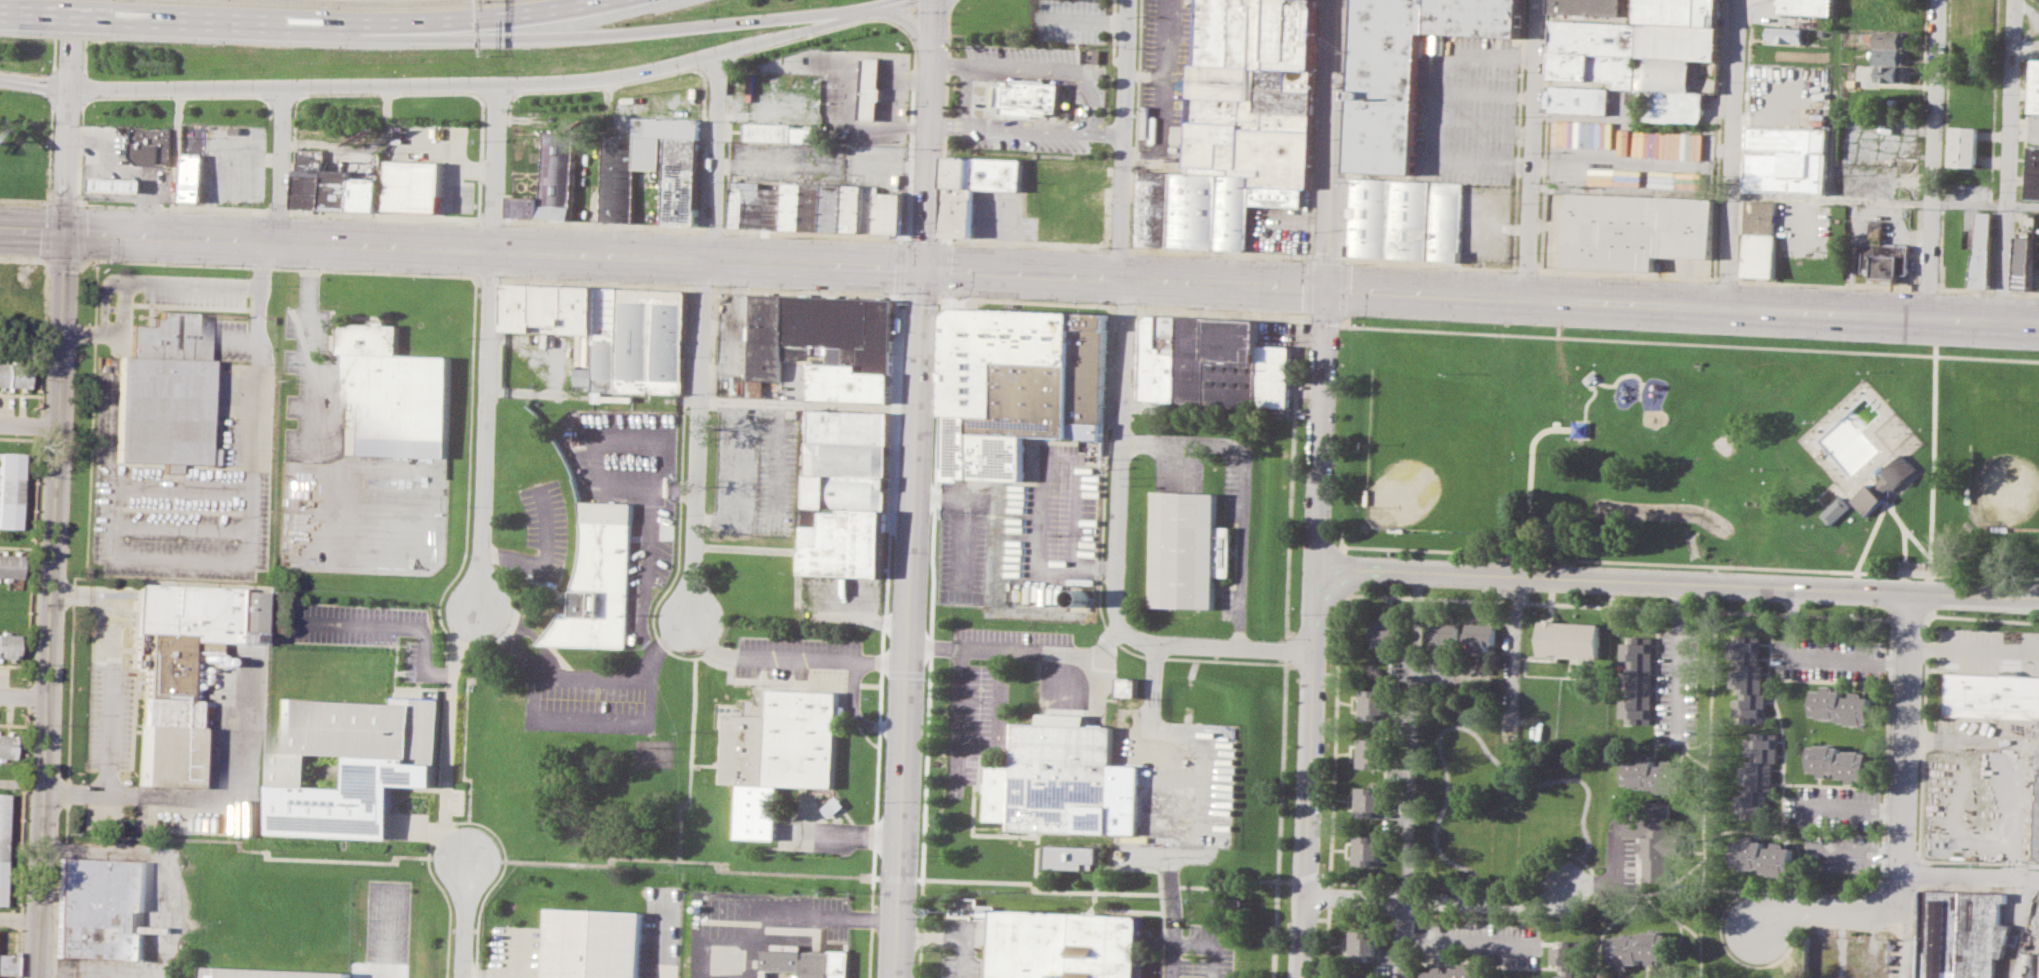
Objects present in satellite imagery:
road: (954, 1)
building: (1807, 6)
building: (1591, 7)
building: (1680, 11)
road: (11, 12)
road: (521, 12)
road: (73, 15)
road: (1084, 20)
road: (284, 22)
road: (655, 30)
building: (1786, 34)
road: (53, 35)
road: (83, 36)
building: (1593, 37)
building: (1415, 39)
building: (1889, 39)
building: (1679, 41)
building: (1889, 56)
road: (855, 60)
road: (872, 61)
road: (887, 62)
road: (810, 64)
building: (1594, 67)
road: (855, 71)
road: (845, 72)
road: (872, 72)
road: (886, 72)
building: (1666, 73)
building: (1890, 73)
road: (1145, 75)
road: (854, 82)
road: (1163, 82)
road: (871, 83)
road: (886, 83)
road: (35, 84)
building: (1968, 85)
road: (493, 86)
road: (51, 87)
road: (82, 87)
parking lot: (1166, 87)
building: (2034, 87)
building: (871, 88)
road: (965, 93)
road: (1484, 93)
building: (1030, 96)
building: (1579, 98)
road: (853, 102)
road: (871, 103)
road: (891, 103)
road: (885, 104)
parking lot: (1466, 104)
road: (1436, 106)
building: (1687, 106)
road: (1093, 109)
road: (854, 113)
road: (870, 113)
road: (885, 114)
road: (1472, 117)
road: (945, 119)
building: (1236, 126)
building: (670, 127)
building: (778, 132)
road: (1109, 133)
road: (930, 134)
building: (1383, 136)
road: (1124, 138)
road: (1331, 143)
building: (1668, 144)
building: (1965, 145)
road: (364, 147)
building: (146, 148)
road: (1529, 149)
road: (78, 152)
building: (652, 152)
parking lot: (1627, 152)
road: (1733, 154)
road: (720, 155)
road: (1935, 158)
building: (1788, 159)
road: (2009, 159)
road: (177, 162)
road: (284, 163)
road: (781, 165)
building: (984, 172)
building: (2033, 172)
road: (93, 175)
road: (48, 176)
building: (194, 176)
building: (618, 177)
road: (80, 179)
building: (310, 179)
building: (552, 181)
building: (685, 181)
building: (117, 184)
building: (413, 185)
building: (337, 189)
building: (366, 194)
road: (1783, 197)
road: (49, 201)
road: (63, 201)
building: (761, 204)
building: (847, 208)
road: (146, 209)
building: (958, 213)
building: (1406, 218)
parking lot: (1487, 222)
building: (1637, 229)
traffic signals: (66, 232)
building: (1761, 238)
road: (462, 248)
building: (1981, 251)
road: (261, 255)
building: (1882, 255)
building: (2023, 260)
road: (940, 267)
traffic signals: (925, 268)
road: (1125, 277)
road: (165, 283)
traffic signals: (1325, 288)
parking lot: (195, 289)
road: (105, 301)
road: (1123, 306)
road: (1681, 307)
building: (554, 310)
road: (1221, 311)
road: (43, 316)
road: (1342, 316)
building: (817, 327)
road: (82, 331)
building: (644, 342)
road: (1688, 342)
road: (489, 343)
parking lot: (735, 344)
road: (308, 347)
road: (1134, 356)
building: (1211, 361)
building: (12, 373)
building: (854, 374)
road: (1612, 383)
building: (1018, 384)
building: (165, 391)
building: (395, 393)
road: (809, 405)
road: (1137, 405)
road: (1586, 409)
road: (38, 425)
road: (1320, 427)
road: (28, 428)
building: (1580, 428)
road: (697, 436)
road: (1895, 443)
park: (1723, 444)
park: (1684, 450)
road: (1119, 452)
park: (1441, 454)
park: (2004, 464)
parking lot: (757, 471)
parking lot: (191, 473)
road: (1103, 474)
parking lot: (349, 476)
road: (1291, 476)
road: (1911, 481)
road: (178, 485)
road: (662, 486)
building: (1875, 486)
road: (1241, 488)
building: (10, 489)
road: (54, 489)
building: (852, 493)
road: (803, 506)
parking lot: (1051, 522)
road: (176, 526)
road: (747, 547)
road: (1437, 549)
road: (1930, 549)
building: (1187, 551)
parking lot: (963, 556)
road: (648, 558)
road: (32, 560)
road: (214, 562)
road: (1680, 563)
building: (9, 566)
road: (1342, 573)
road: (1947, 575)
building: (600, 581)
road: (1613, 581)
road: (1905, 582)
road: (1924, 583)
road: (1972, 597)
road: (2035, 597)
road: (2035, 599)
road: (1613, 605)
road: (1313, 608)
road: (1908, 616)
parking lot: (689, 618)
road: (1985, 618)
road: (909, 622)
parking lot: (363, 629)
road: (642, 631)
building: (1387, 631)
building: (1443, 633)
building: (1480, 635)
road: (422, 636)
road: (932, 637)
building: (1570, 639)
road: (1214, 644)
building: (8, 645)
road: (1974, 646)
road: (976, 647)
parking lot: (1985, 648)
road: (1284, 649)
parking lot: (788, 653)
road: (1088, 653)
road: (1818, 656)
road: (1512, 657)
road: (764, 658)
parking lot: (1828, 658)
road: (1680, 661)
road: (883, 663)
road: (107, 664)
building: (175, 667)
road: (1310, 668)
road: (596, 675)
parking lot: (108, 678)
building: (1641, 680)
building: (1750, 681)
road: (1095, 685)
parking lot: (1679, 685)
building: (1128, 686)
road: (28, 695)
building: (1991, 695)
road: (22, 696)
parking lot: (591, 700)
building: (1370, 703)
building: (1841, 705)
road: (859, 712)
road: (998, 717)
road: (957, 720)
road: (581, 723)
road: (1905, 732)
road: (1175, 734)
road: (1333, 743)
building: (6, 745)
road: (1408, 749)
building: (782, 752)
building: (1368, 752)
parking lot: (1401, 759)
building: (351, 762)
building: (1841, 763)
road: (447, 769)
building: (1759, 771)
building: (1657, 774)
road: (20, 779)
building: (1054, 779)
road: (66, 787)
parking lot: (1170, 789)
road: (213, 795)
building: (1366, 800)
building: (2036, 804)
building: (834, 806)
road: (1306, 813)
road: (1277, 820)
road: (1806, 823)
parking lot: (1837, 826)
road: (846, 833)
road: (1008, 834)
building: (1655, 837)
road: (22, 841)
building: (2, 844)
building: (1364, 849)
road: (1180, 854)
building: (1071, 856)
building: (1765, 856)
road: (1969, 871)
road: (1301, 875)
road: (1592, 876)
road: (1097, 878)
road: (1227, 885)
road: (1050, 890)
road: (1327, 897)
road: (1437, 899)
building: (101, 908)
road: (1837, 912)
road: (1171, 915)
road: (18, 916)
road: (828, 916)
road: (1314, 917)
road: (464, 920)
parking lot: (386, 930)
road: (388, 934)
building: (1960, 934)
road: (940, 935)
road: (1398, 937)
road: (668, 940)
road: (1464, 940)
parking lot: (1477, 942)
road: (1325, 943)
building: (1361, 943)
building: (596, 944)
road: (1206, 944)
building: (1063, 945)
building: (1641, 948)
parking lot: (1198, 953)
road: (962, 957)
building: (1572, 960)
building: (809, 962)
building: (7, 965)
parking lot: (961, 966)
building: (2028, 966)
building: (1456, 972)
building: (269, 974)
building: (1663, 976)

